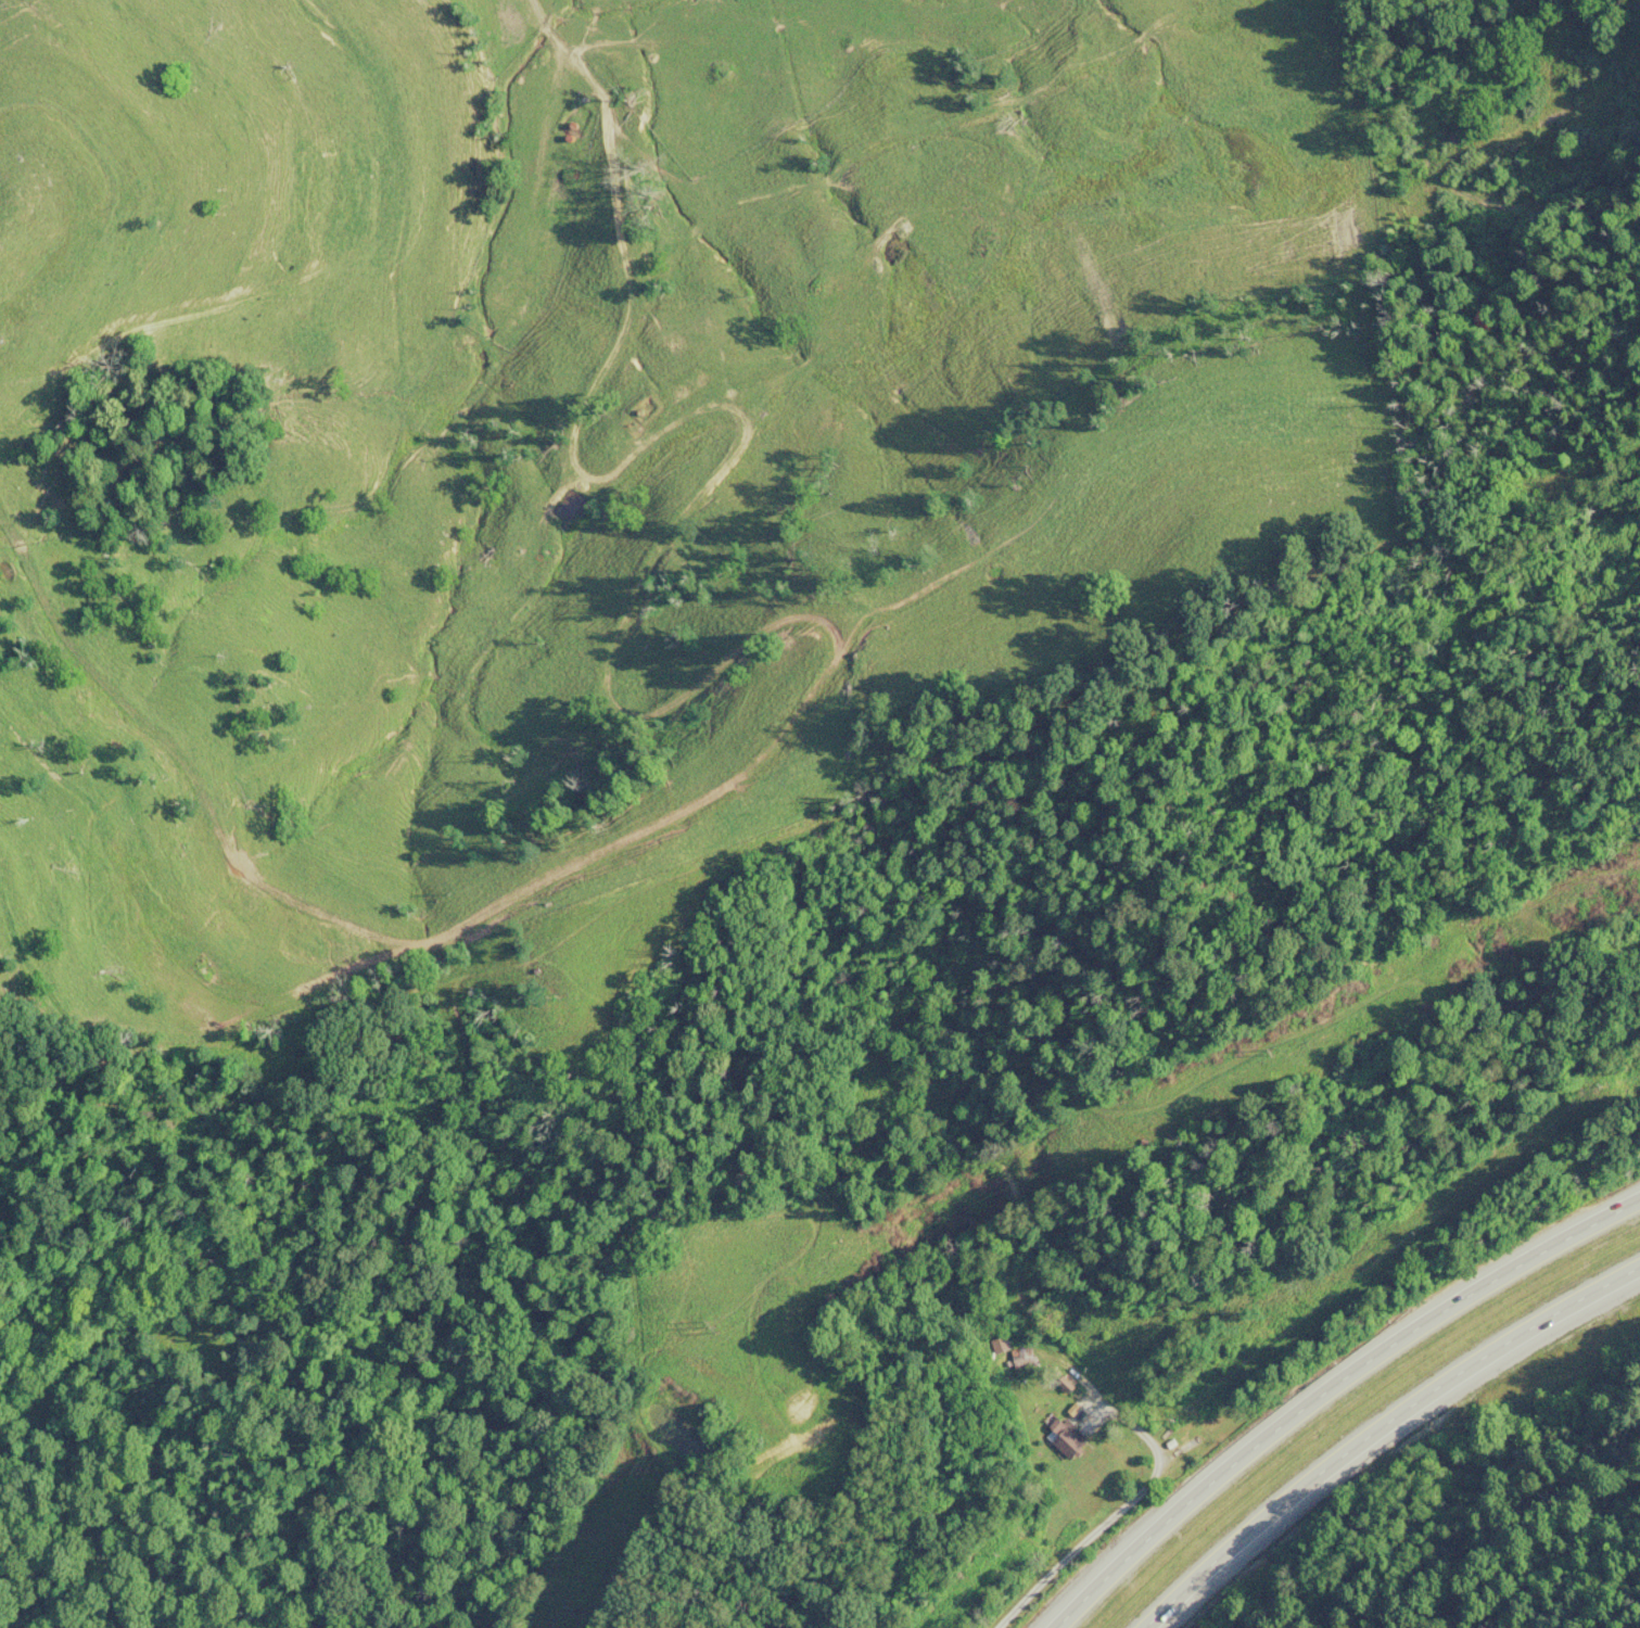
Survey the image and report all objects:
road: (1325, 1386)
road: (1375, 1425)

